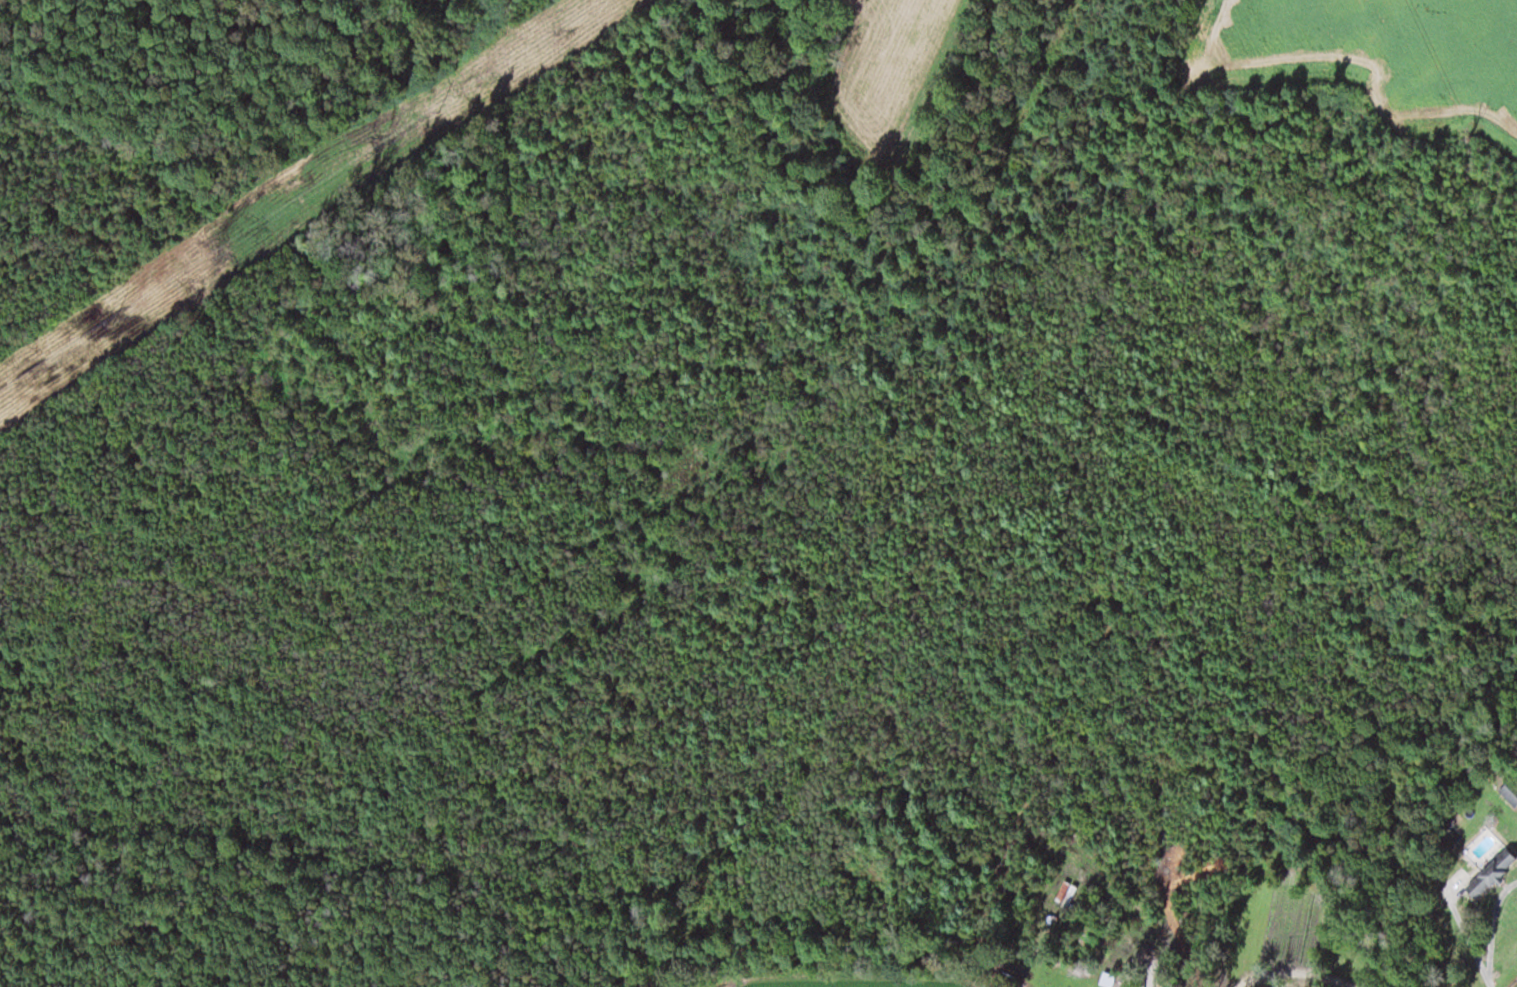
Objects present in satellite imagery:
building: (1509, 791)
building: (1490, 873)

